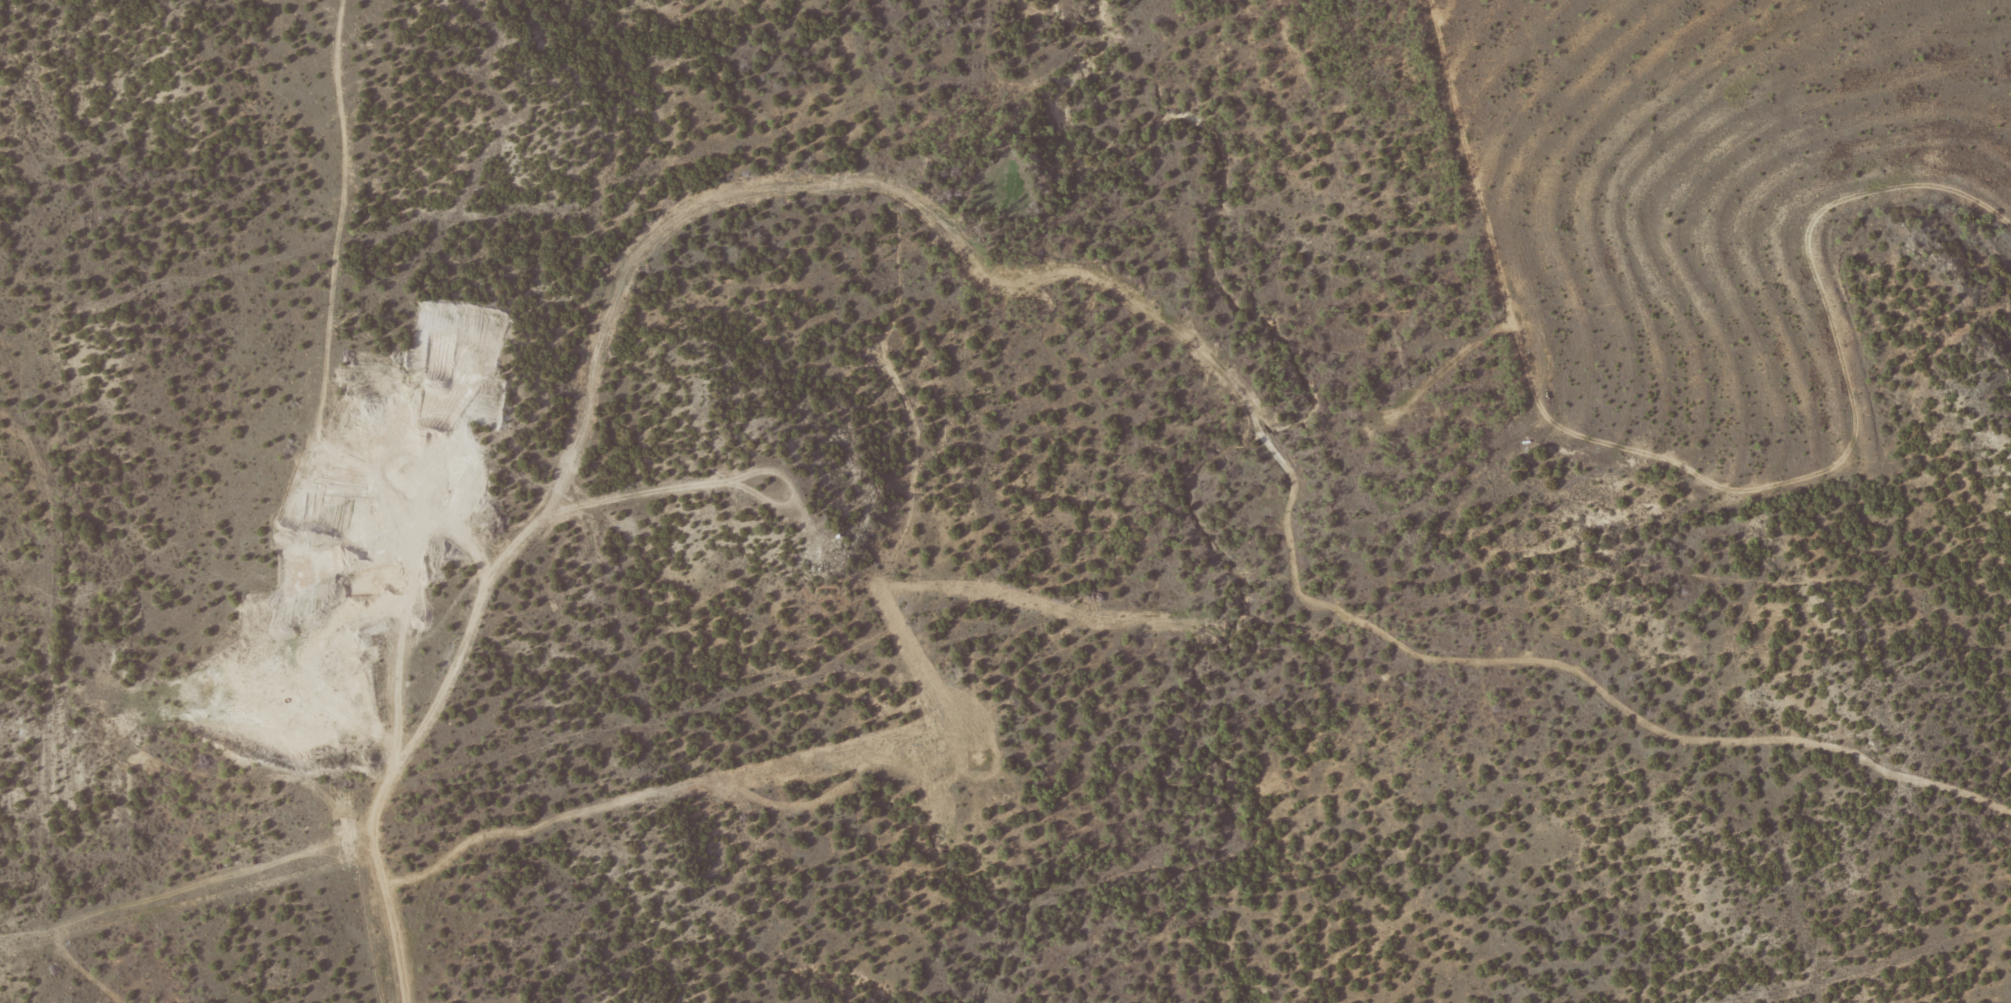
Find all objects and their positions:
road: (7, 862)

